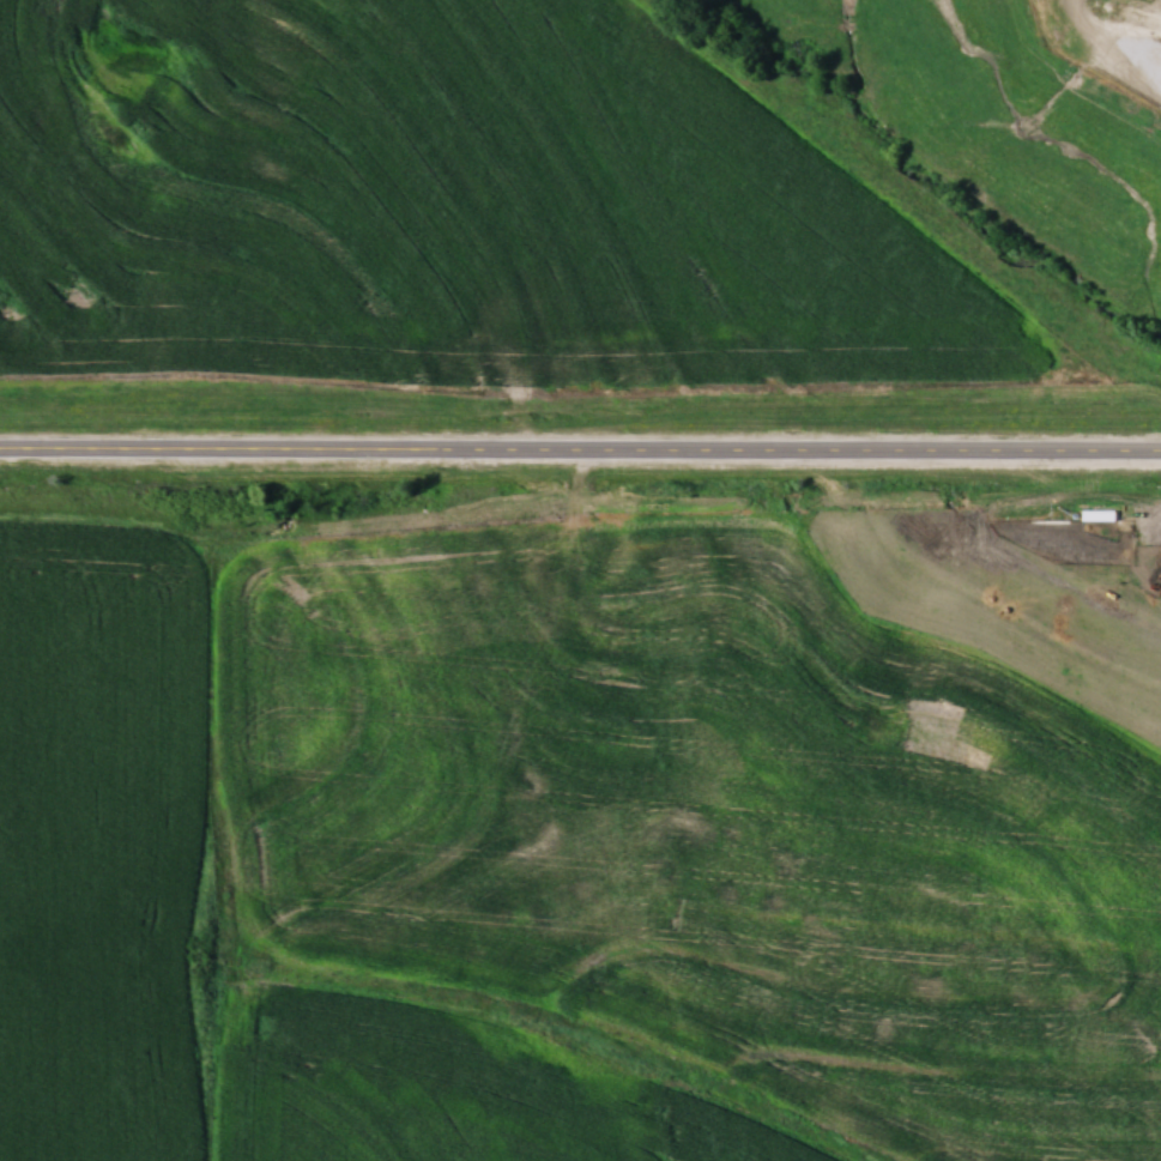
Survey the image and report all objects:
road: (580, 445)

